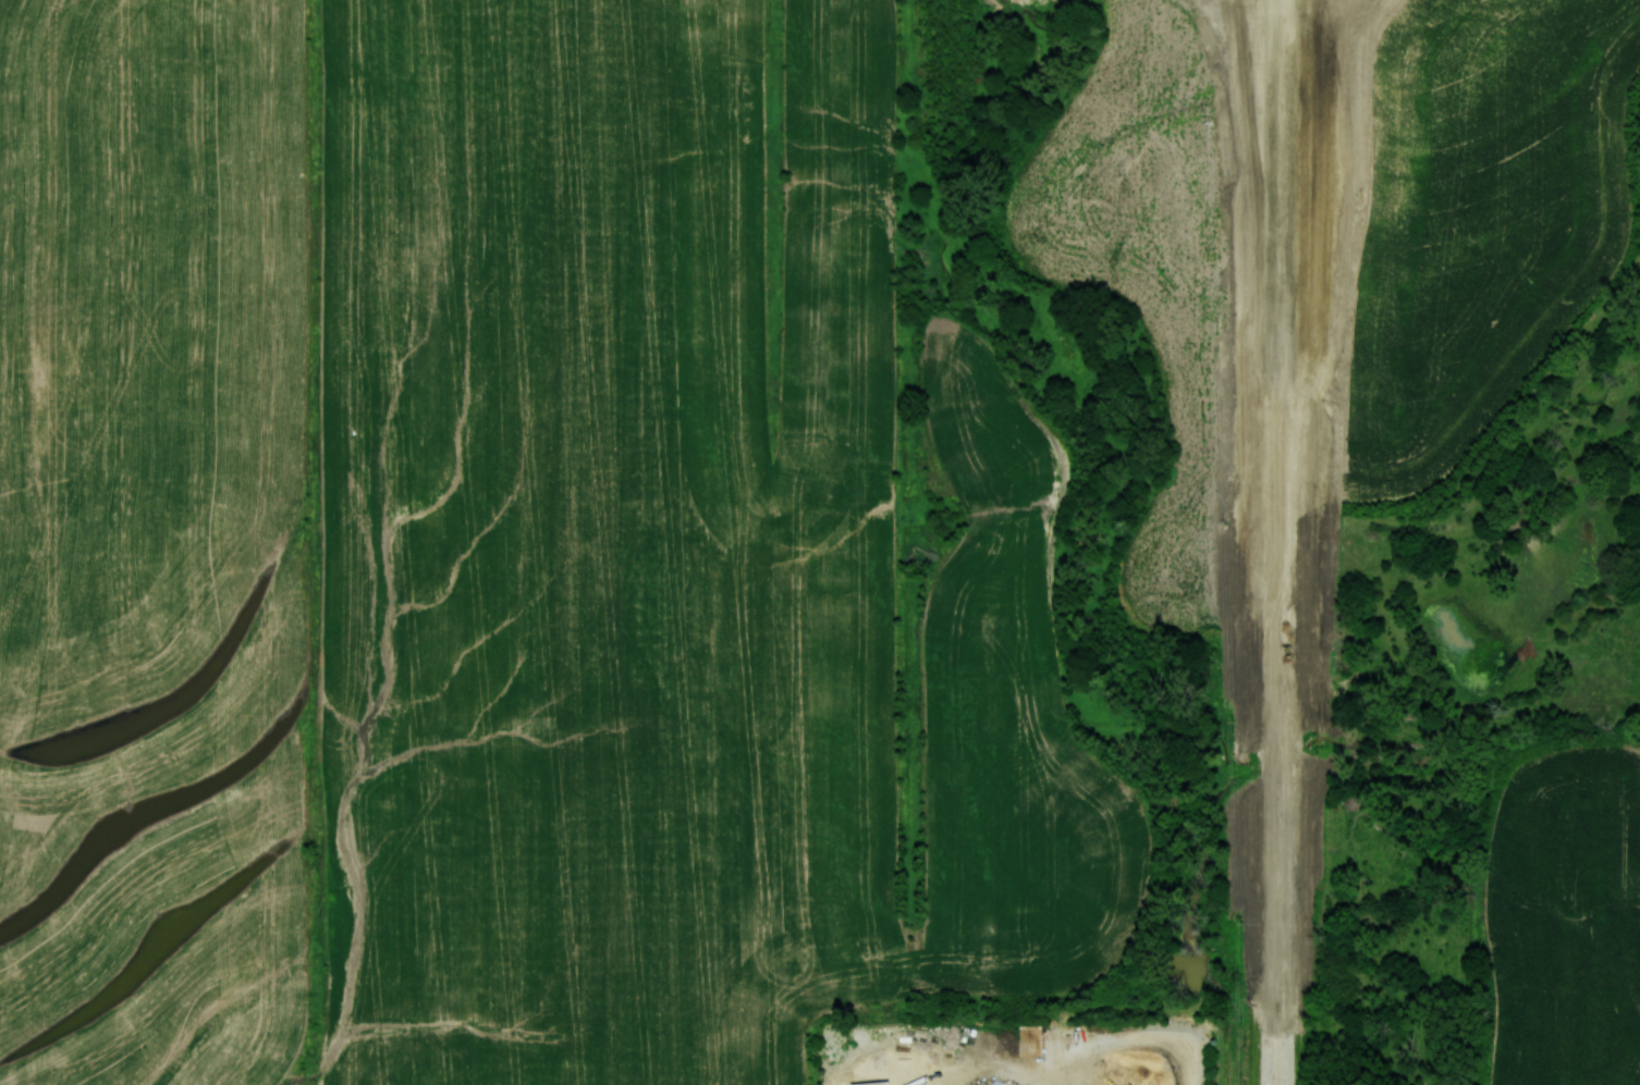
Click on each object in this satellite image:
road: (1293, 41)
road: (1278, 42)
road: (1282, 584)

